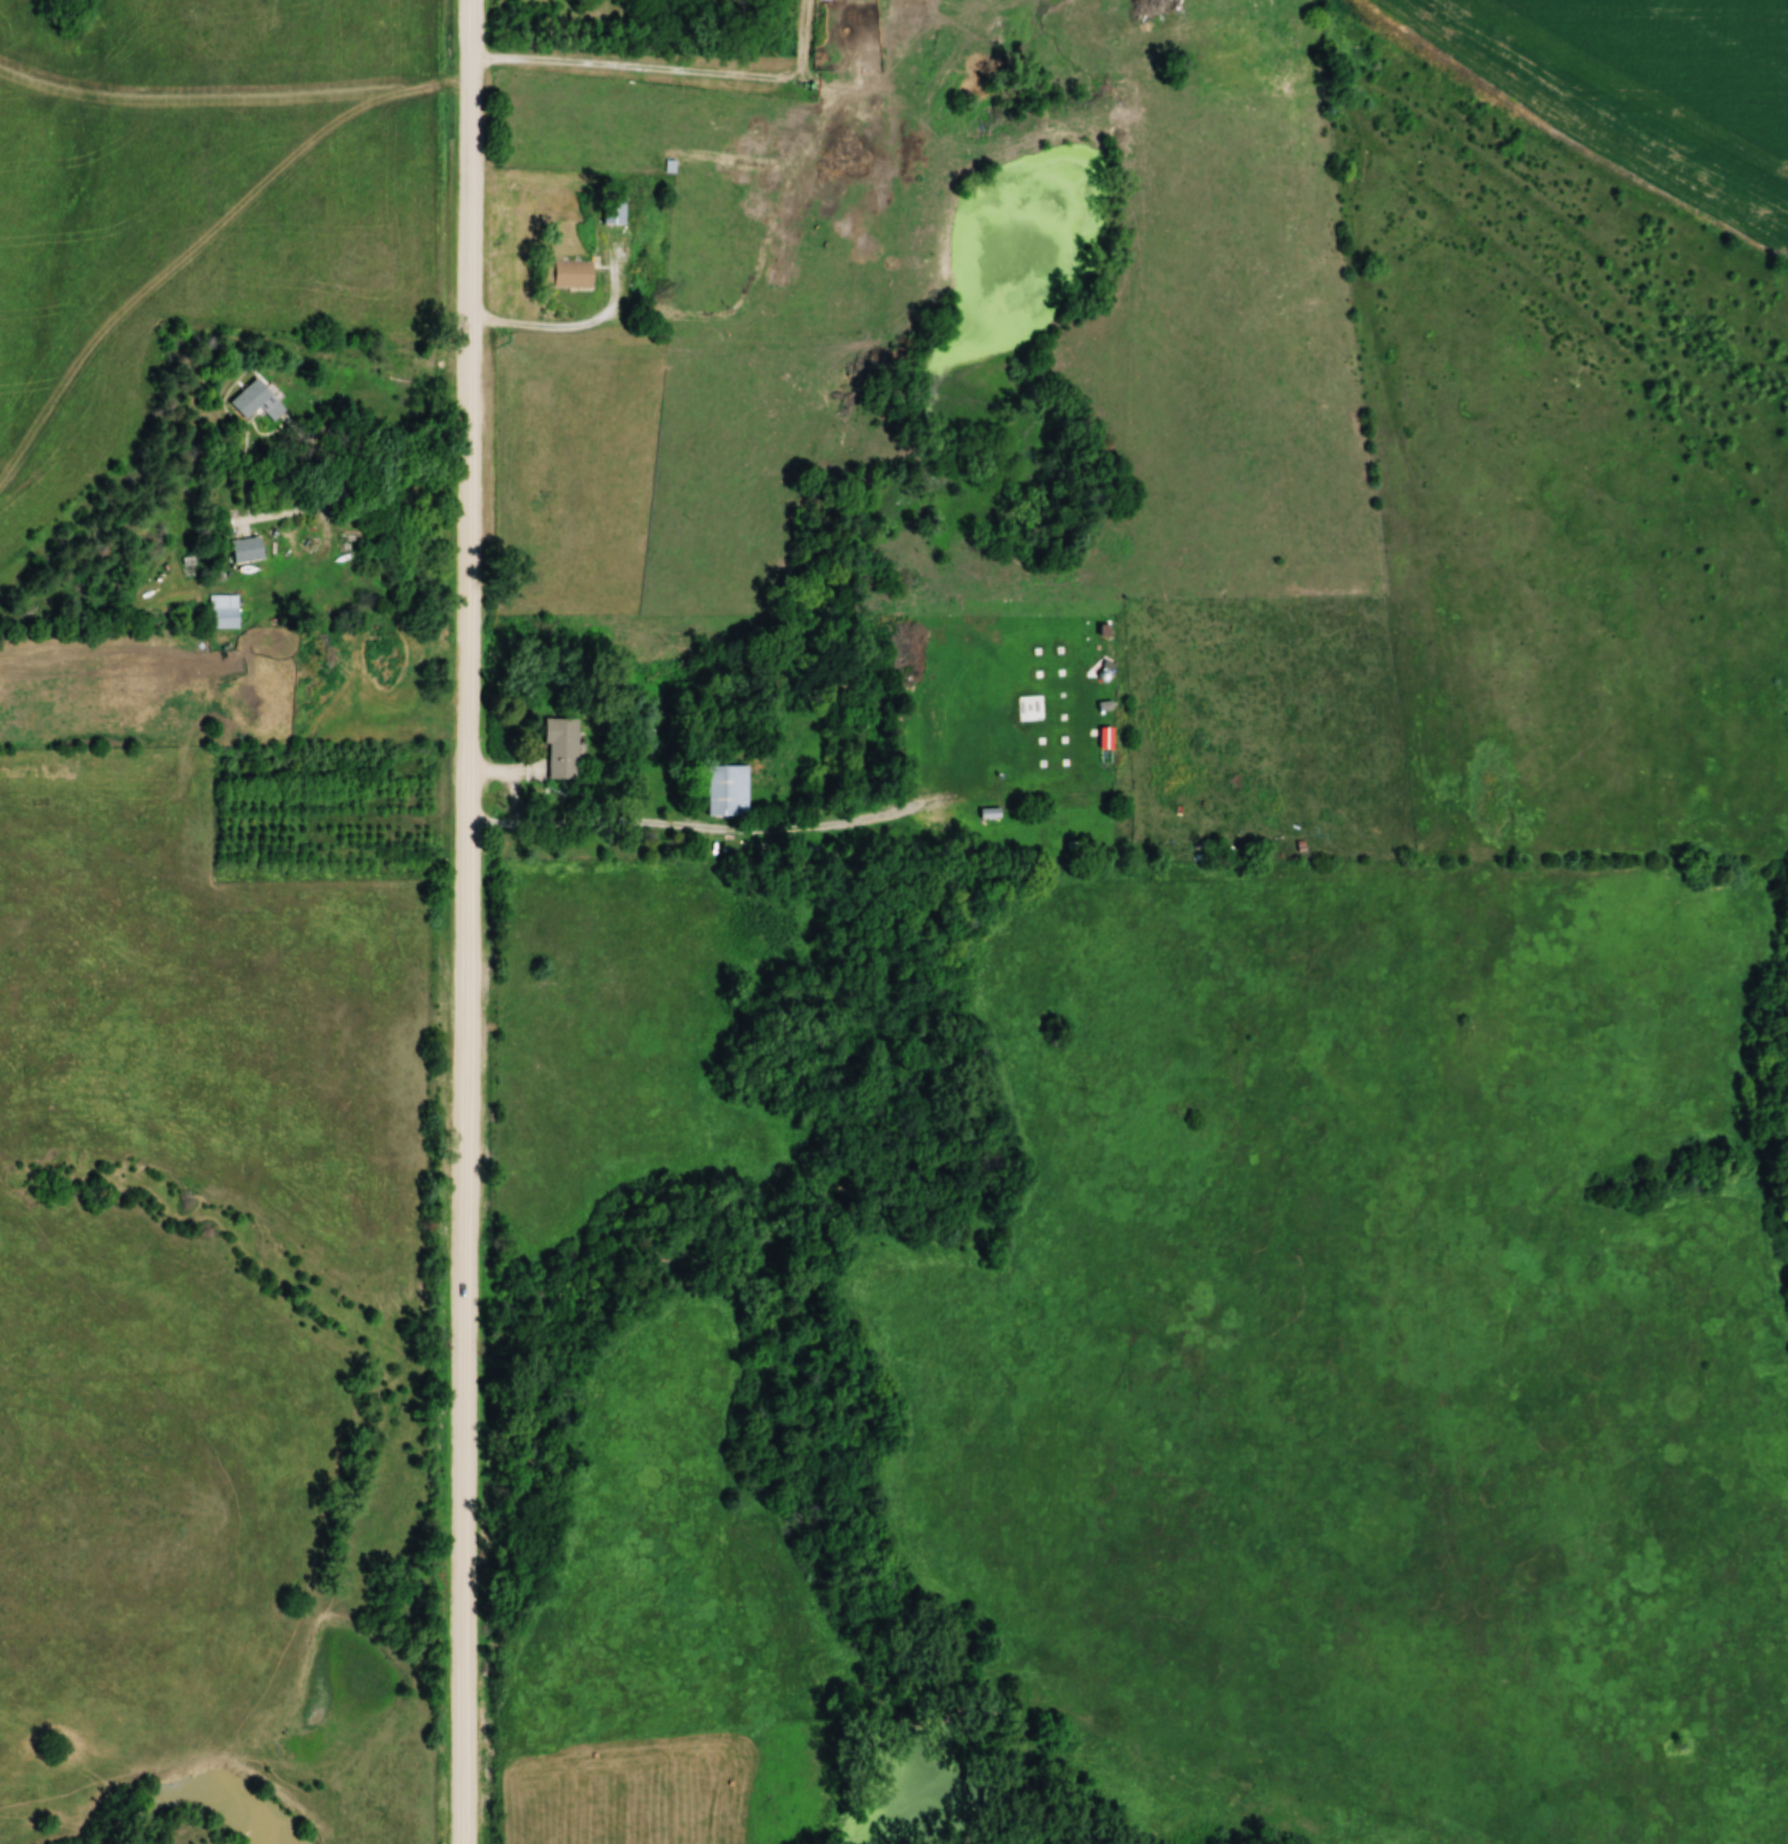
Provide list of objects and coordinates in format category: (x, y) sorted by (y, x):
building: (611, 208)
building: (571, 275)
road: (570, 328)
building: (248, 399)
road: (325, 496)
building: (244, 551)
building: (221, 612)
building: (1008, 703)
building: (558, 750)
building: (725, 792)
road: (517, 803)
road: (744, 832)
road: (465, 921)

